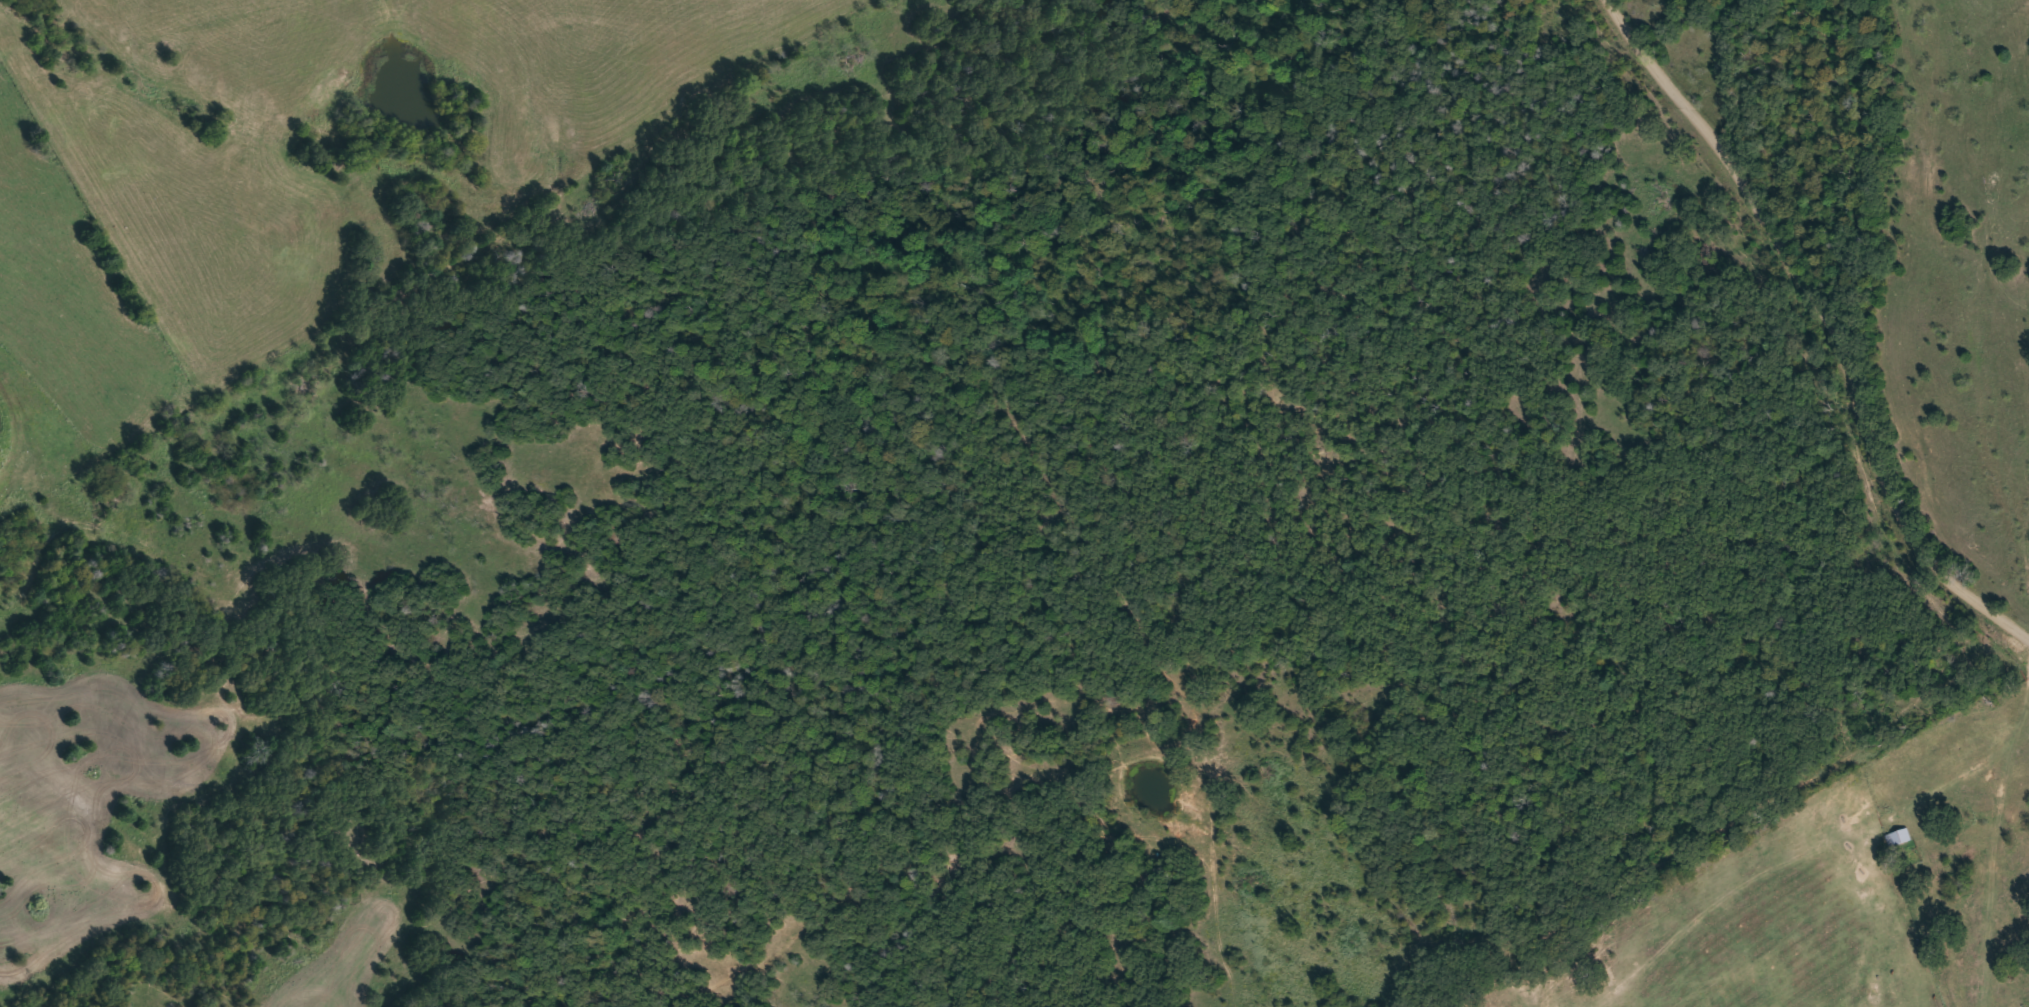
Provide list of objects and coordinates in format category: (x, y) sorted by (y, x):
road: (1825, 317)
building: (1898, 836)
road: (1820, 841)

